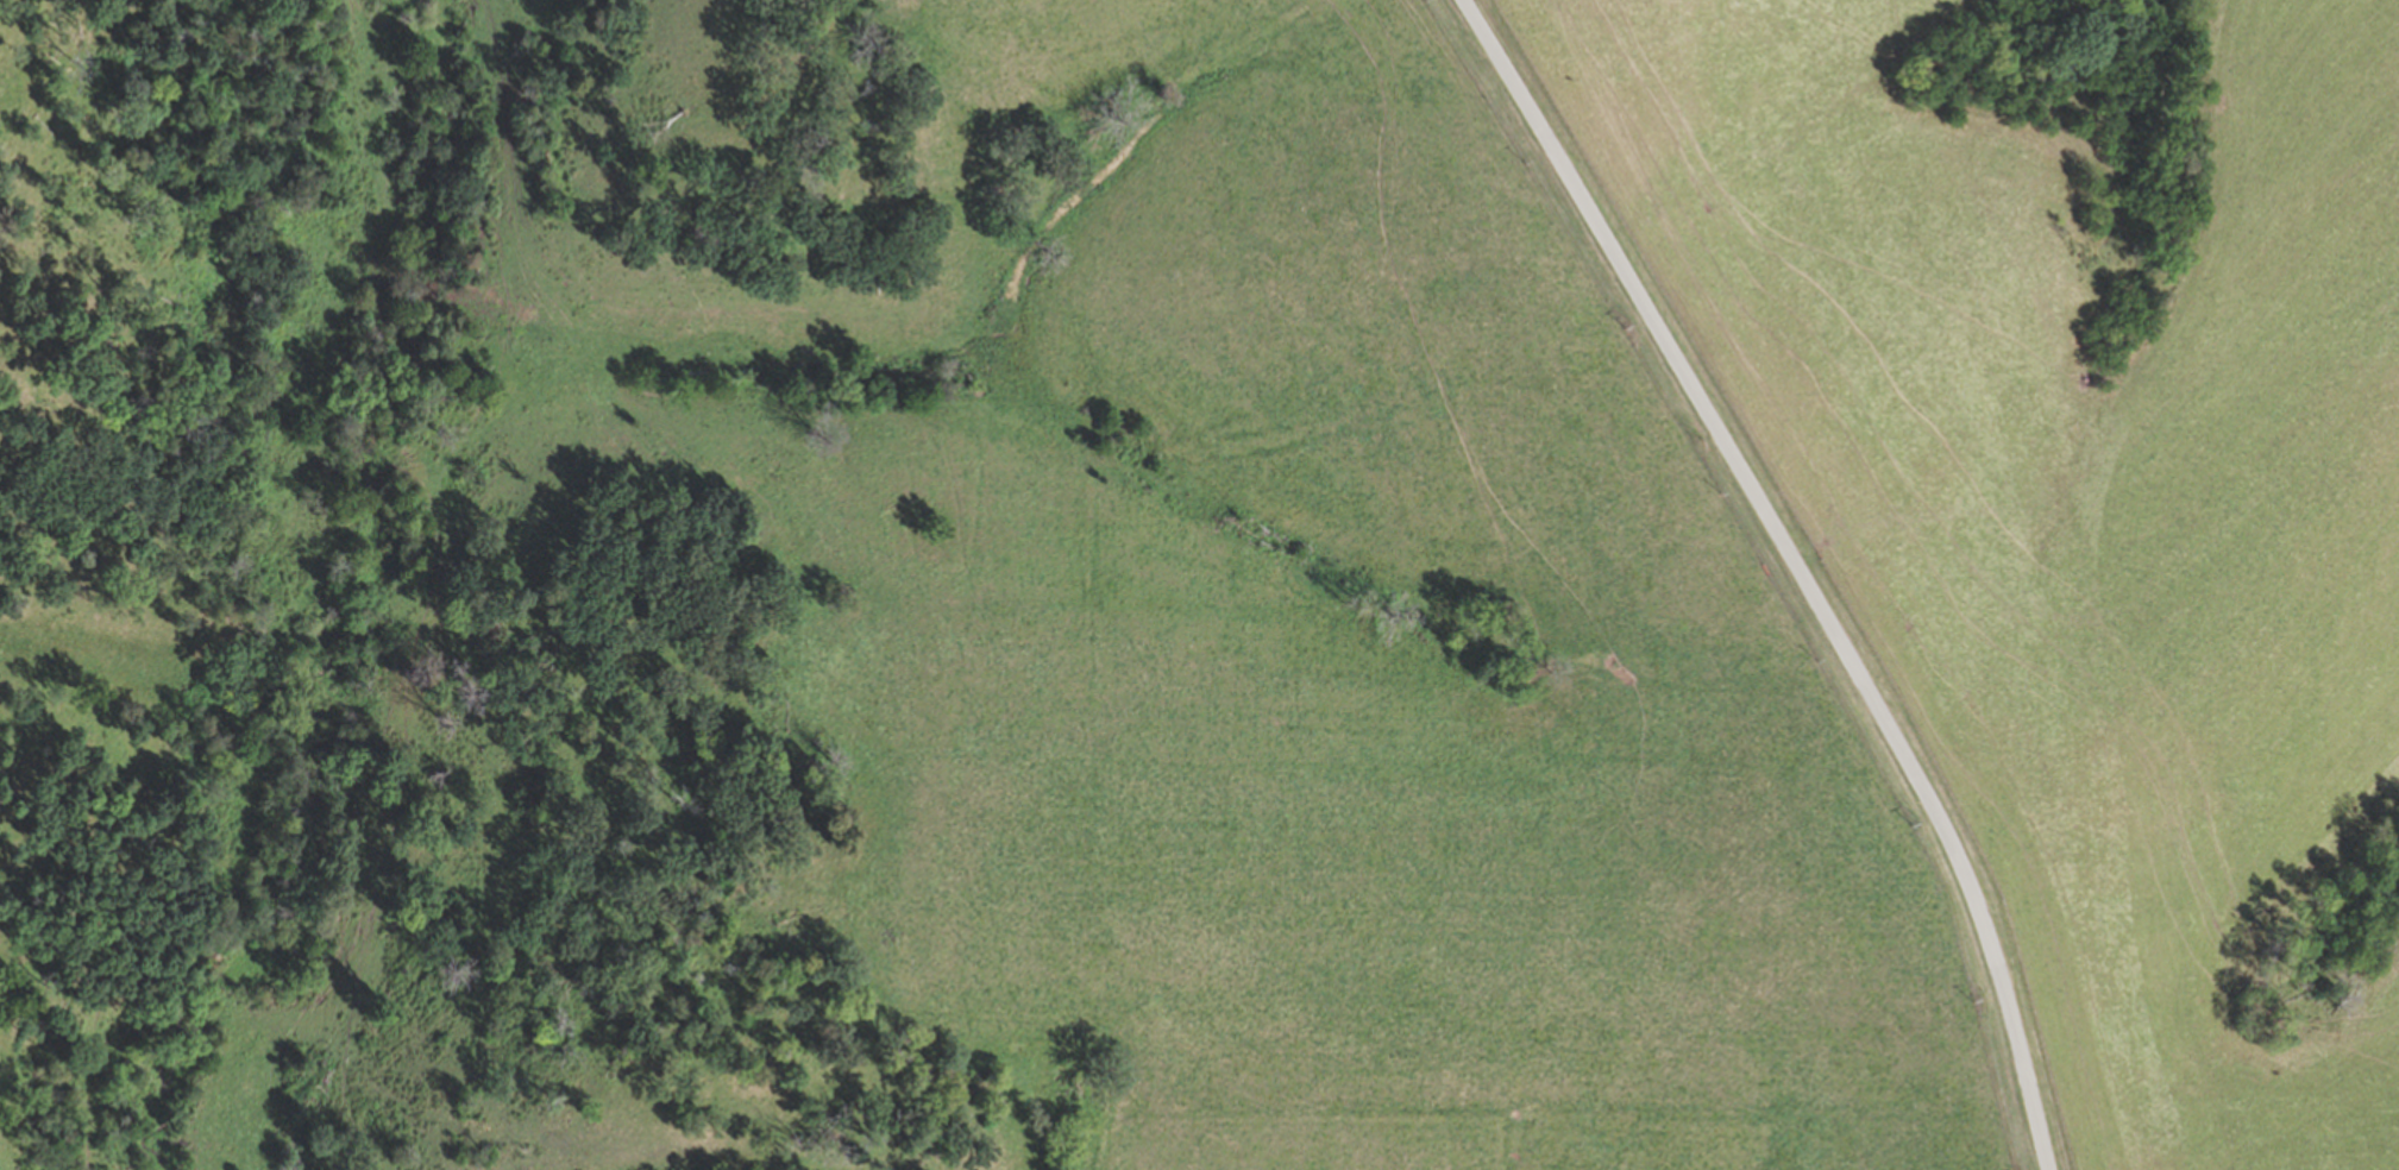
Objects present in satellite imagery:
road: (1792, 566)

